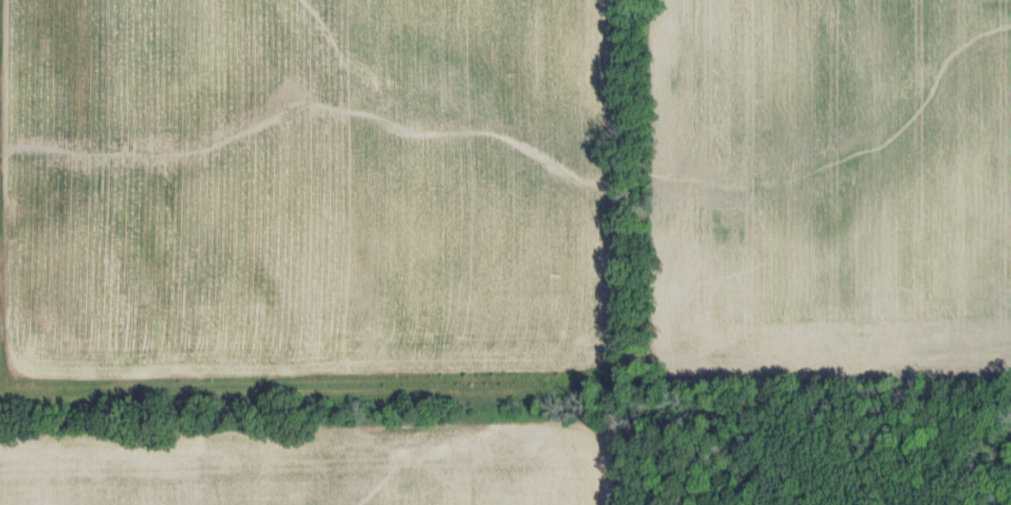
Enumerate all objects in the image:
crop: (470, 230)

